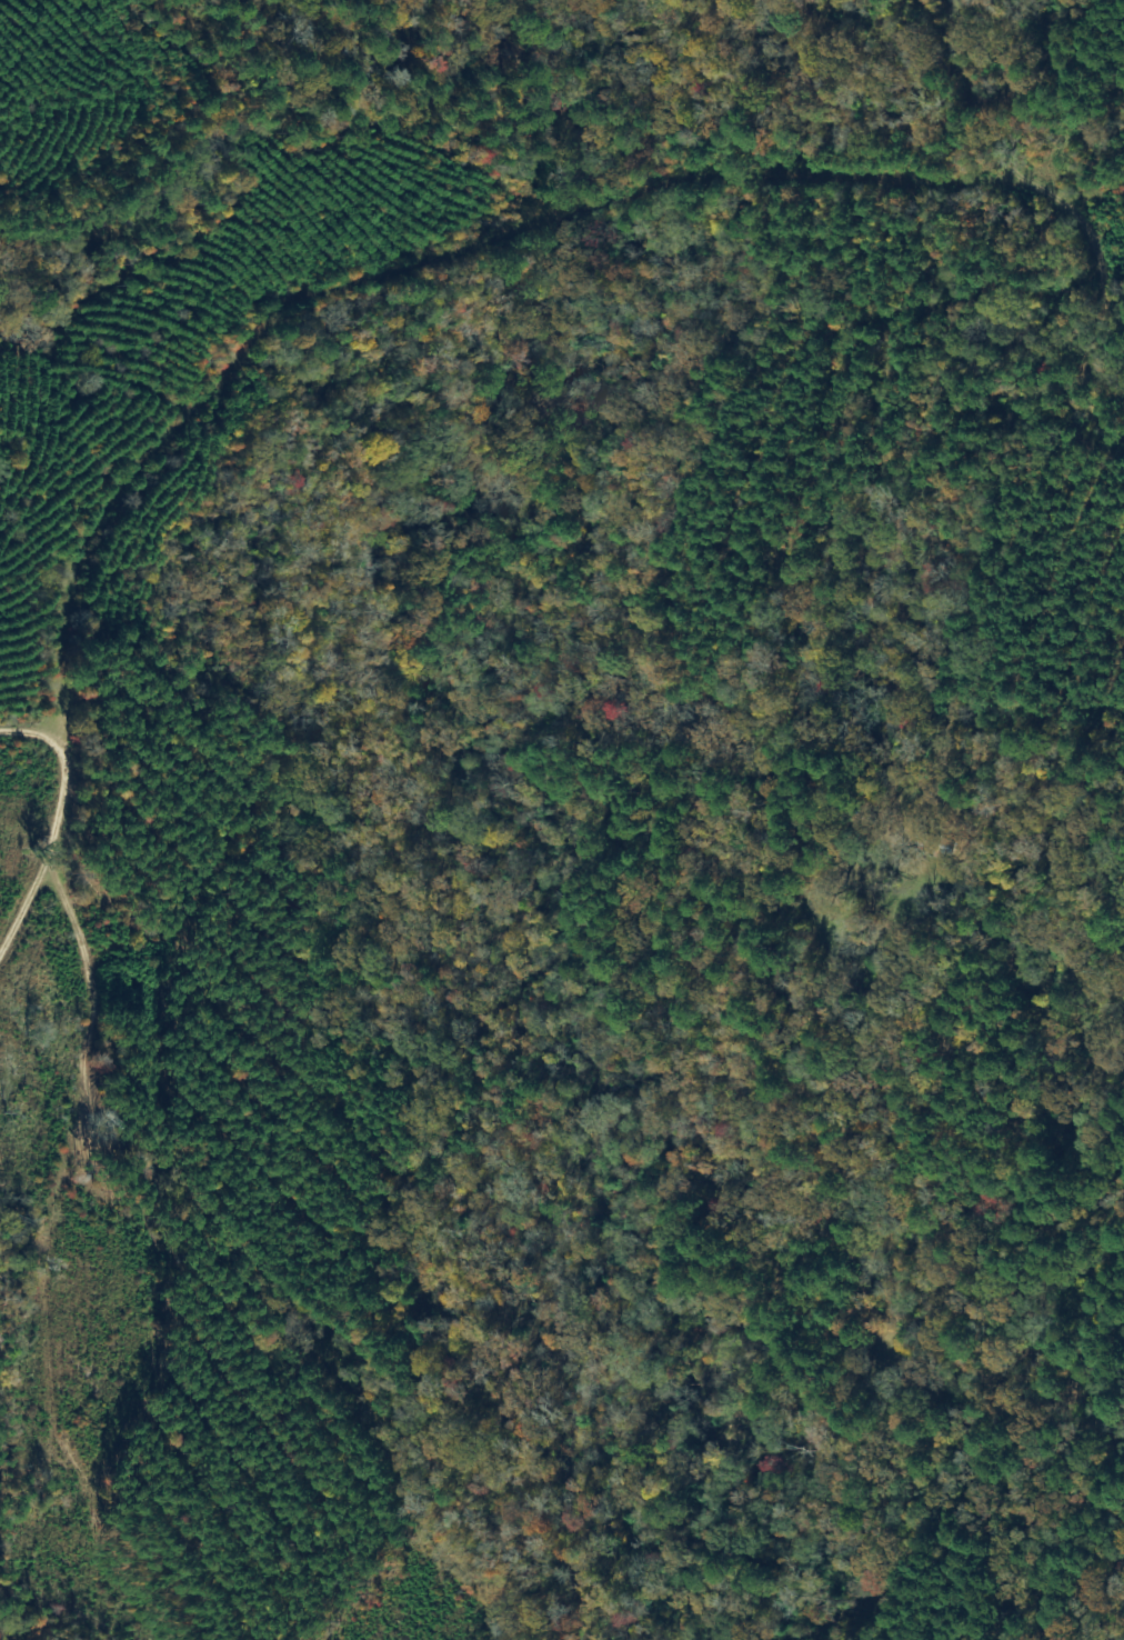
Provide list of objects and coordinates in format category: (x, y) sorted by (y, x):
road: (931, 66)
road: (1078, 291)
road: (57, 747)
road: (19, 1253)

